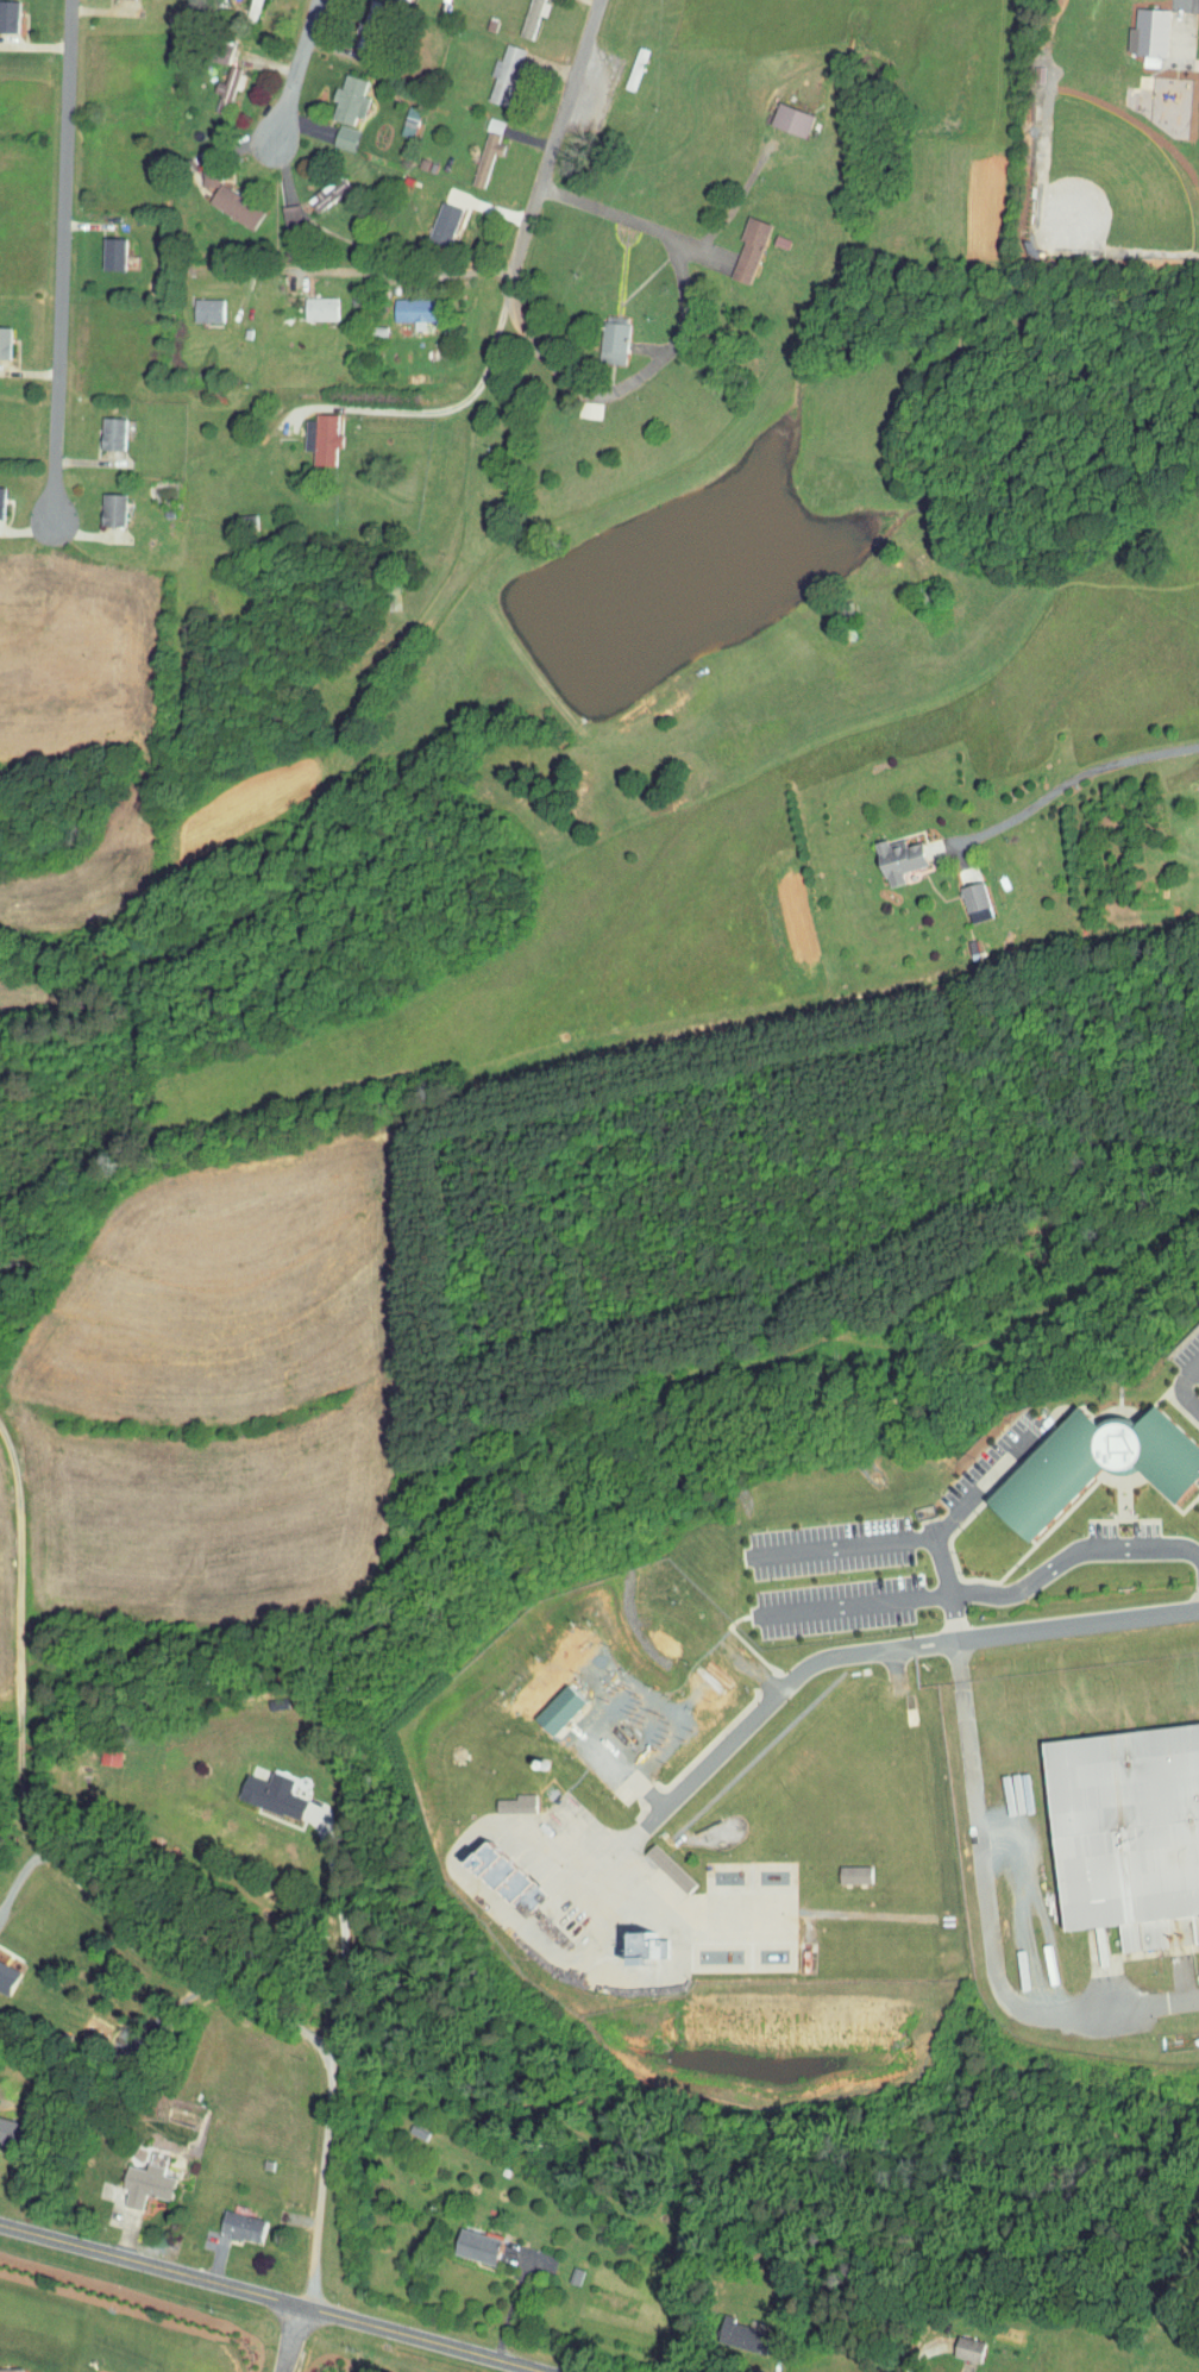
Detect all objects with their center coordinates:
building: (0, 2)
building: (1132, 26)
building: (207, 46)
building: (488, 67)
building: (213, 77)
road: (293, 80)
building: (333, 93)
building: (774, 114)
road: (69, 124)
building: (329, 131)
building: (471, 152)
building: (219, 200)
building: (275, 207)
building: (427, 217)
building: (734, 243)
building: (96, 247)
road: (378, 270)
road: (510, 288)
building: (305, 302)
building: (193, 303)
building: (397, 303)
building: (2, 334)
building: (597, 335)
road: (677, 339)
road: (59, 383)
building: (573, 402)
building: (106, 425)
building: (315, 431)
building: (107, 501)
road: (1069, 783)
building: (1197, 822)
building: (880, 852)
building: (959, 895)
road: (1185, 1386)
building: (1075, 1458)
road: (987, 1483)
road: (899, 1539)
road: (988, 1594)
road: (1109, 1618)
road: (20, 1624)
road: (966, 1637)
road: (897, 1673)
building: (541, 1702)
road: (677, 1712)
building: (99, 1750)
road: (610, 1753)
road: (709, 1758)
building: (264, 1788)
building: (500, 1797)
building: (1115, 1821)
building: (652, 1860)
building: (478, 1865)
building: (836, 1868)
road: (21, 1874)
road: (969, 1925)
road: (340, 1935)
building: (623, 1941)
building: (5, 1972)
road: (277, 2019)
building: (128, 2176)
building: (225, 2217)
building: (459, 2238)
road: (266, 2297)
building: (722, 2326)
road: (290, 2340)
building: (950, 2340)
road: (918, 2355)
building: (6, 2367)
road: (516, 2370)
building: (940, 2371)

